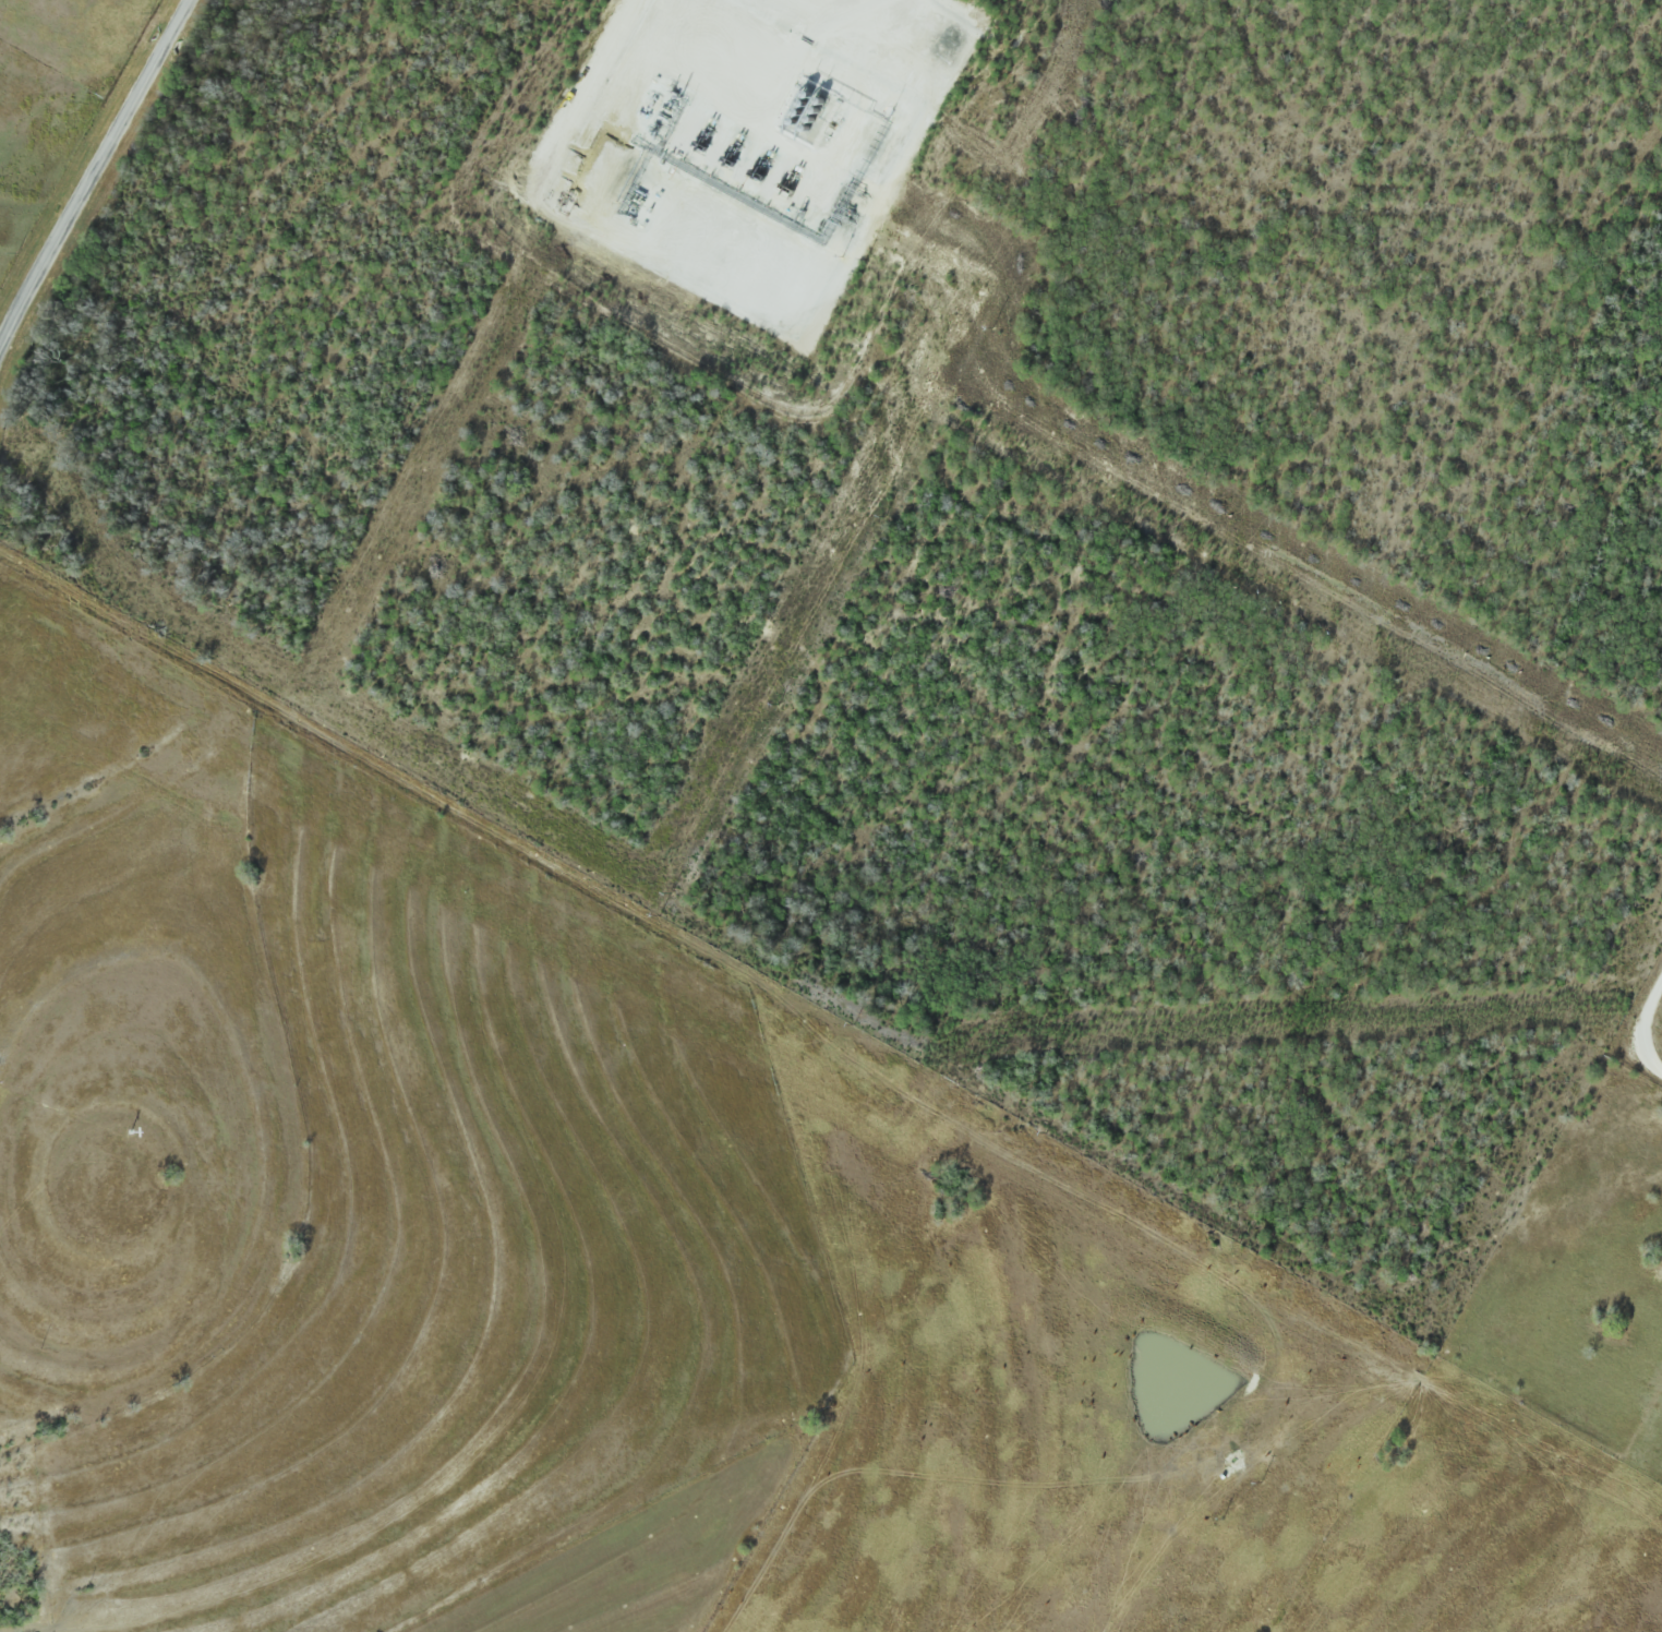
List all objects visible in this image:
road: (829, 169)
road: (94, 178)
road: (1643, 1035)

